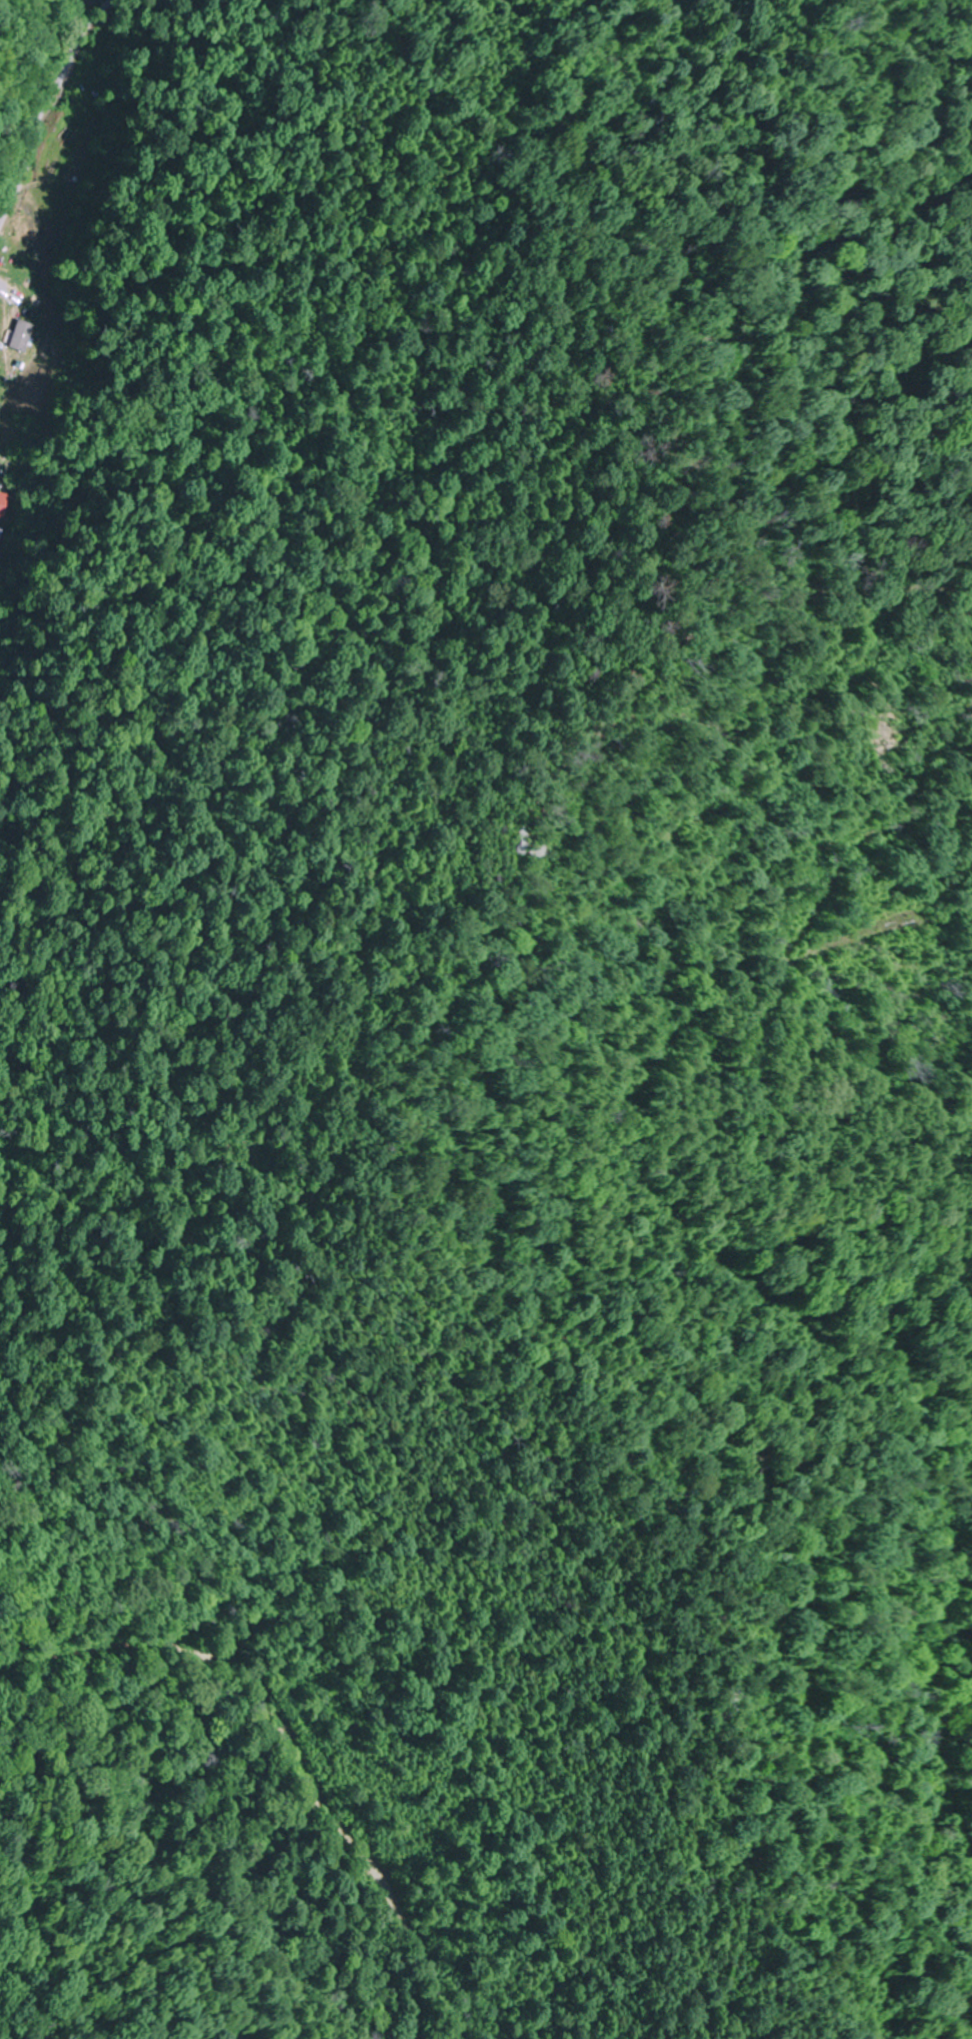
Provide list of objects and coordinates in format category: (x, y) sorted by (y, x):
road: (58, 123)
building: (0, 532)

